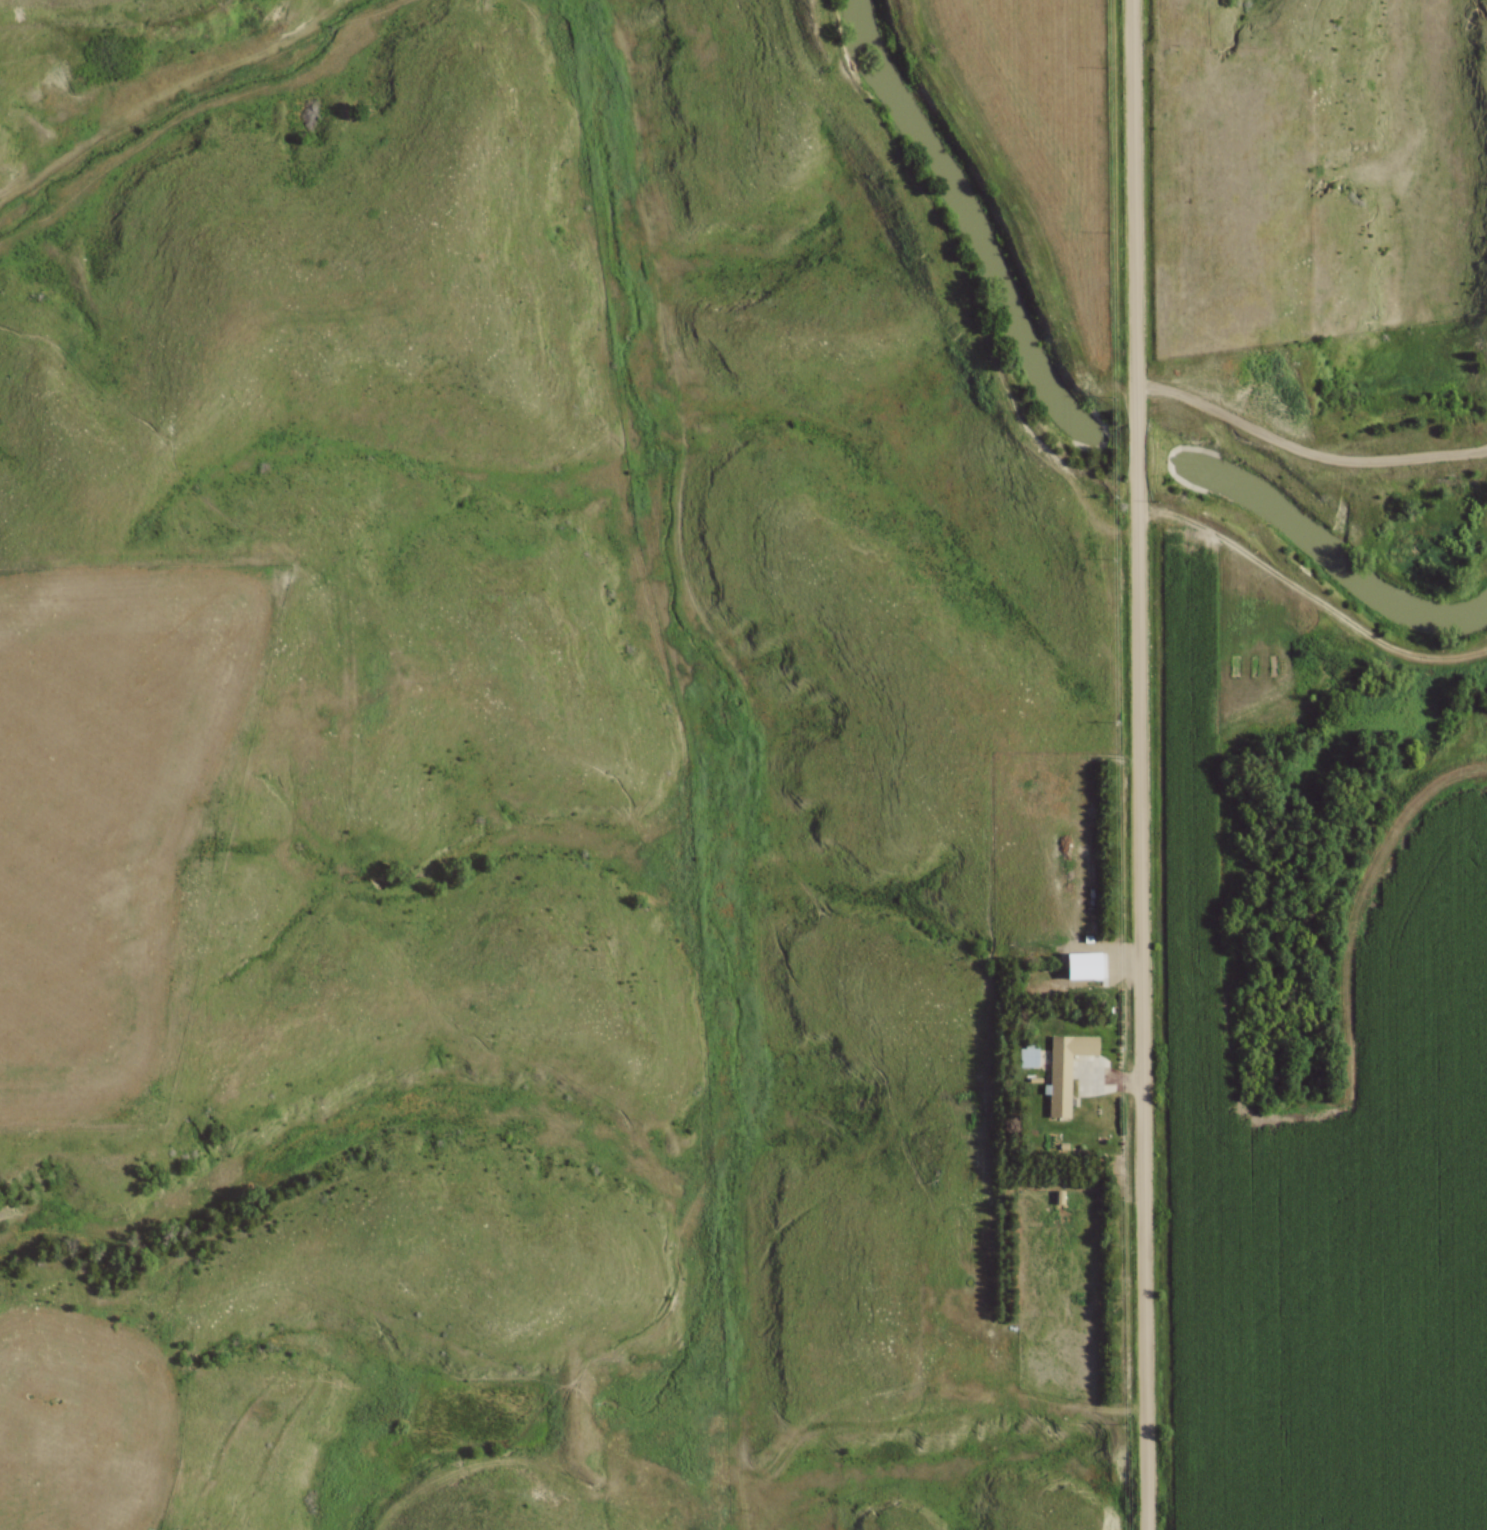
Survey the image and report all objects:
building: (1158, 291)
road: (1305, 450)
road: (1305, 600)
road: (1137, 764)
building: (1023, 1059)
building: (1061, 1070)
crop: (1320, 1180)

